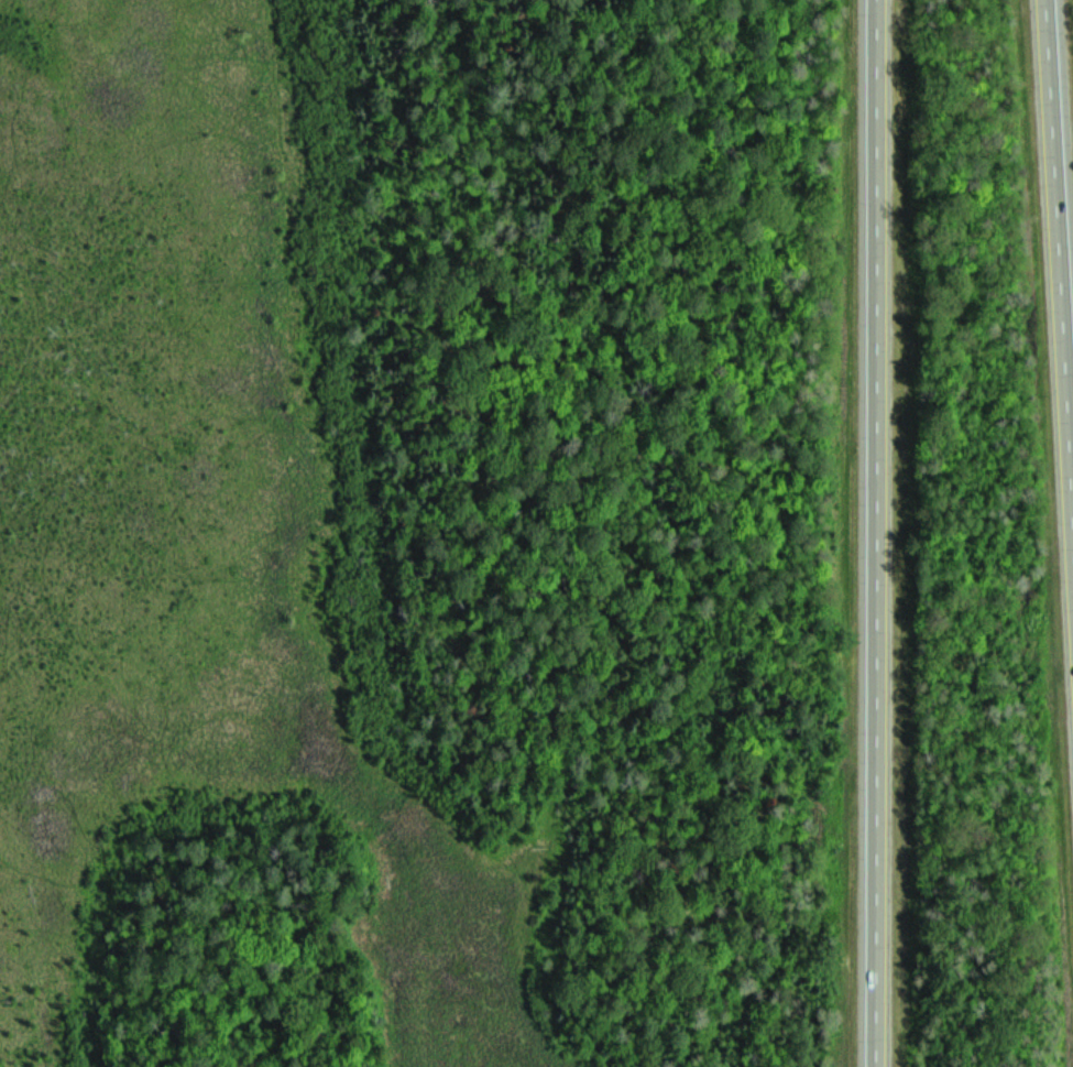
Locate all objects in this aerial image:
road: (1060, 273)
road: (882, 533)

